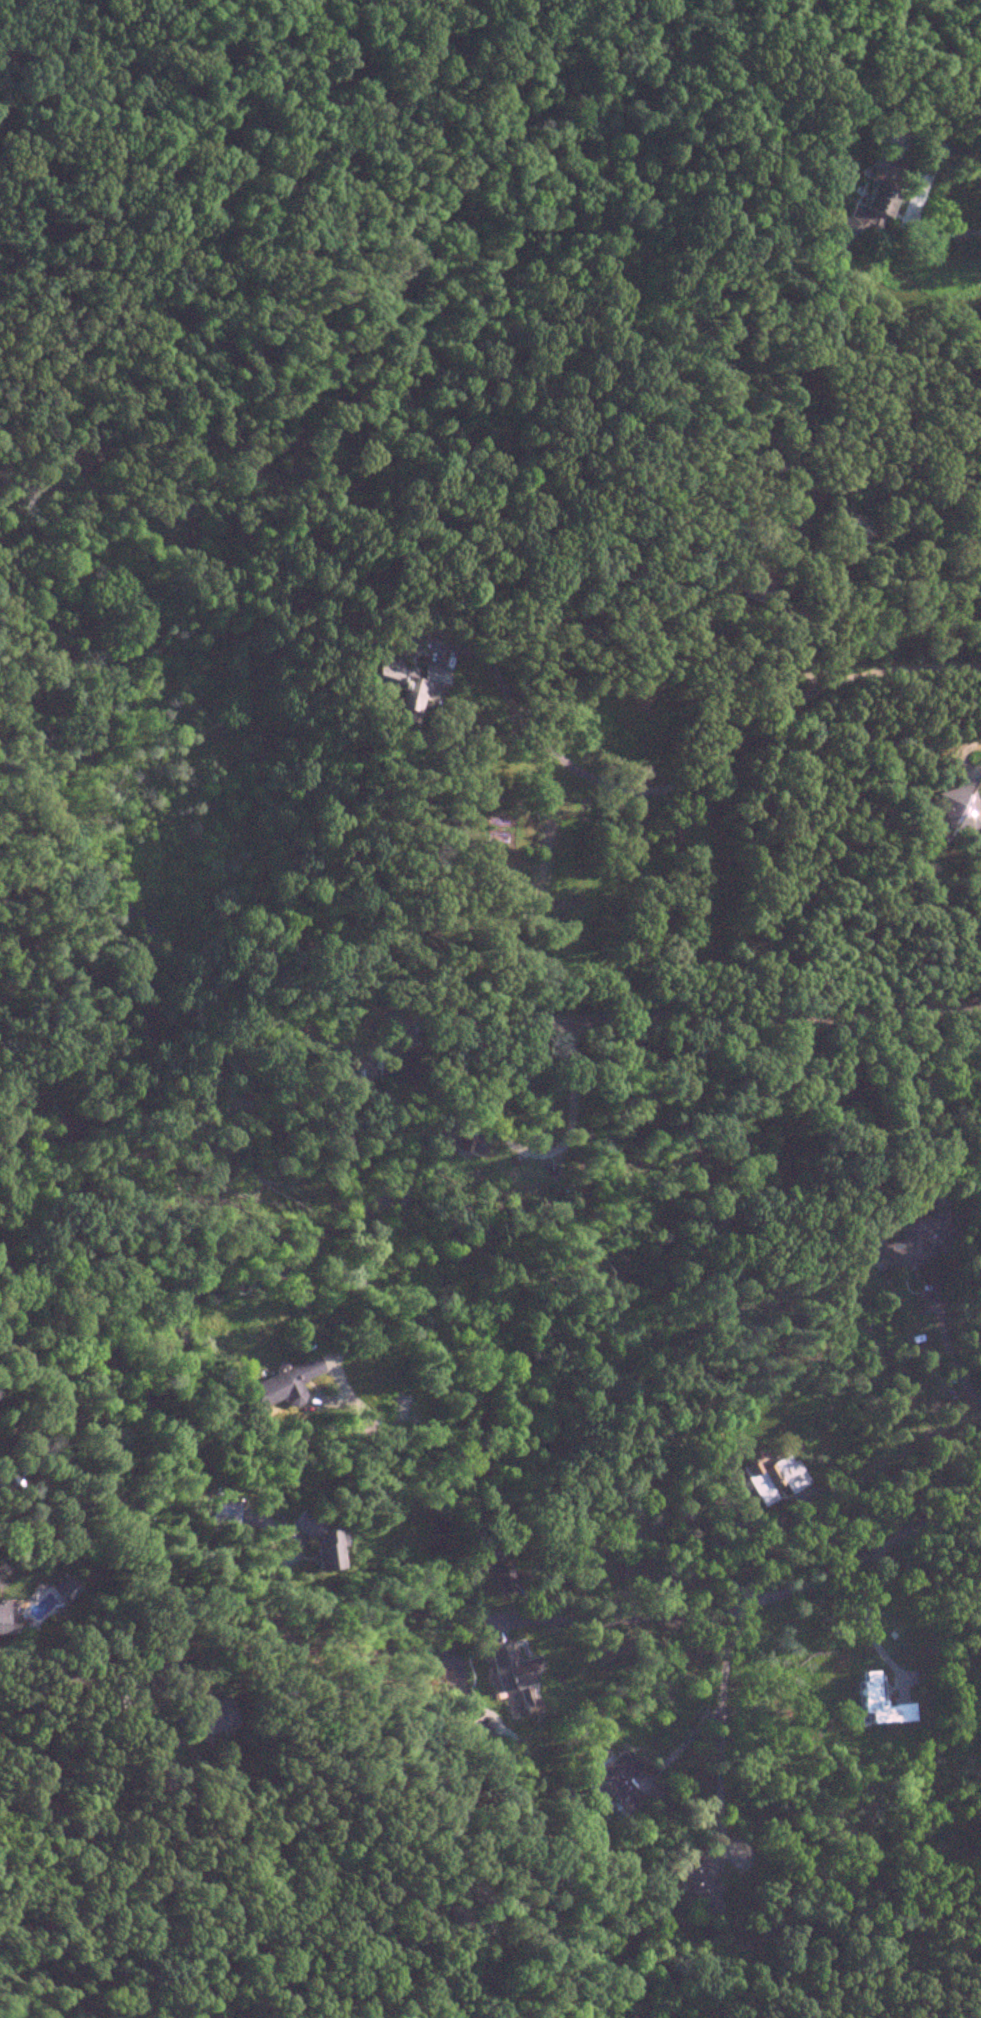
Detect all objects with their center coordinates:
road: (916, 197)
building: (868, 205)
building: (411, 682)
road: (977, 755)
road: (712, 762)
building: (959, 810)
road: (853, 983)
road: (572, 1030)
building: (918, 1238)
road: (941, 1330)
building: (281, 1386)
building: (772, 1479)
road: (453, 1507)
building: (220, 1514)
building: (317, 1541)
road: (872, 1552)
building: (504, 1580)
building: (6, 1618)
road: (624, 1620)
road: (867, 1621)
building: (514, 1668)
road: (98, 1675)
road: (721, 1709)
building: (212, 1716)
building: (620, 1783)
building: (702, 1885)

